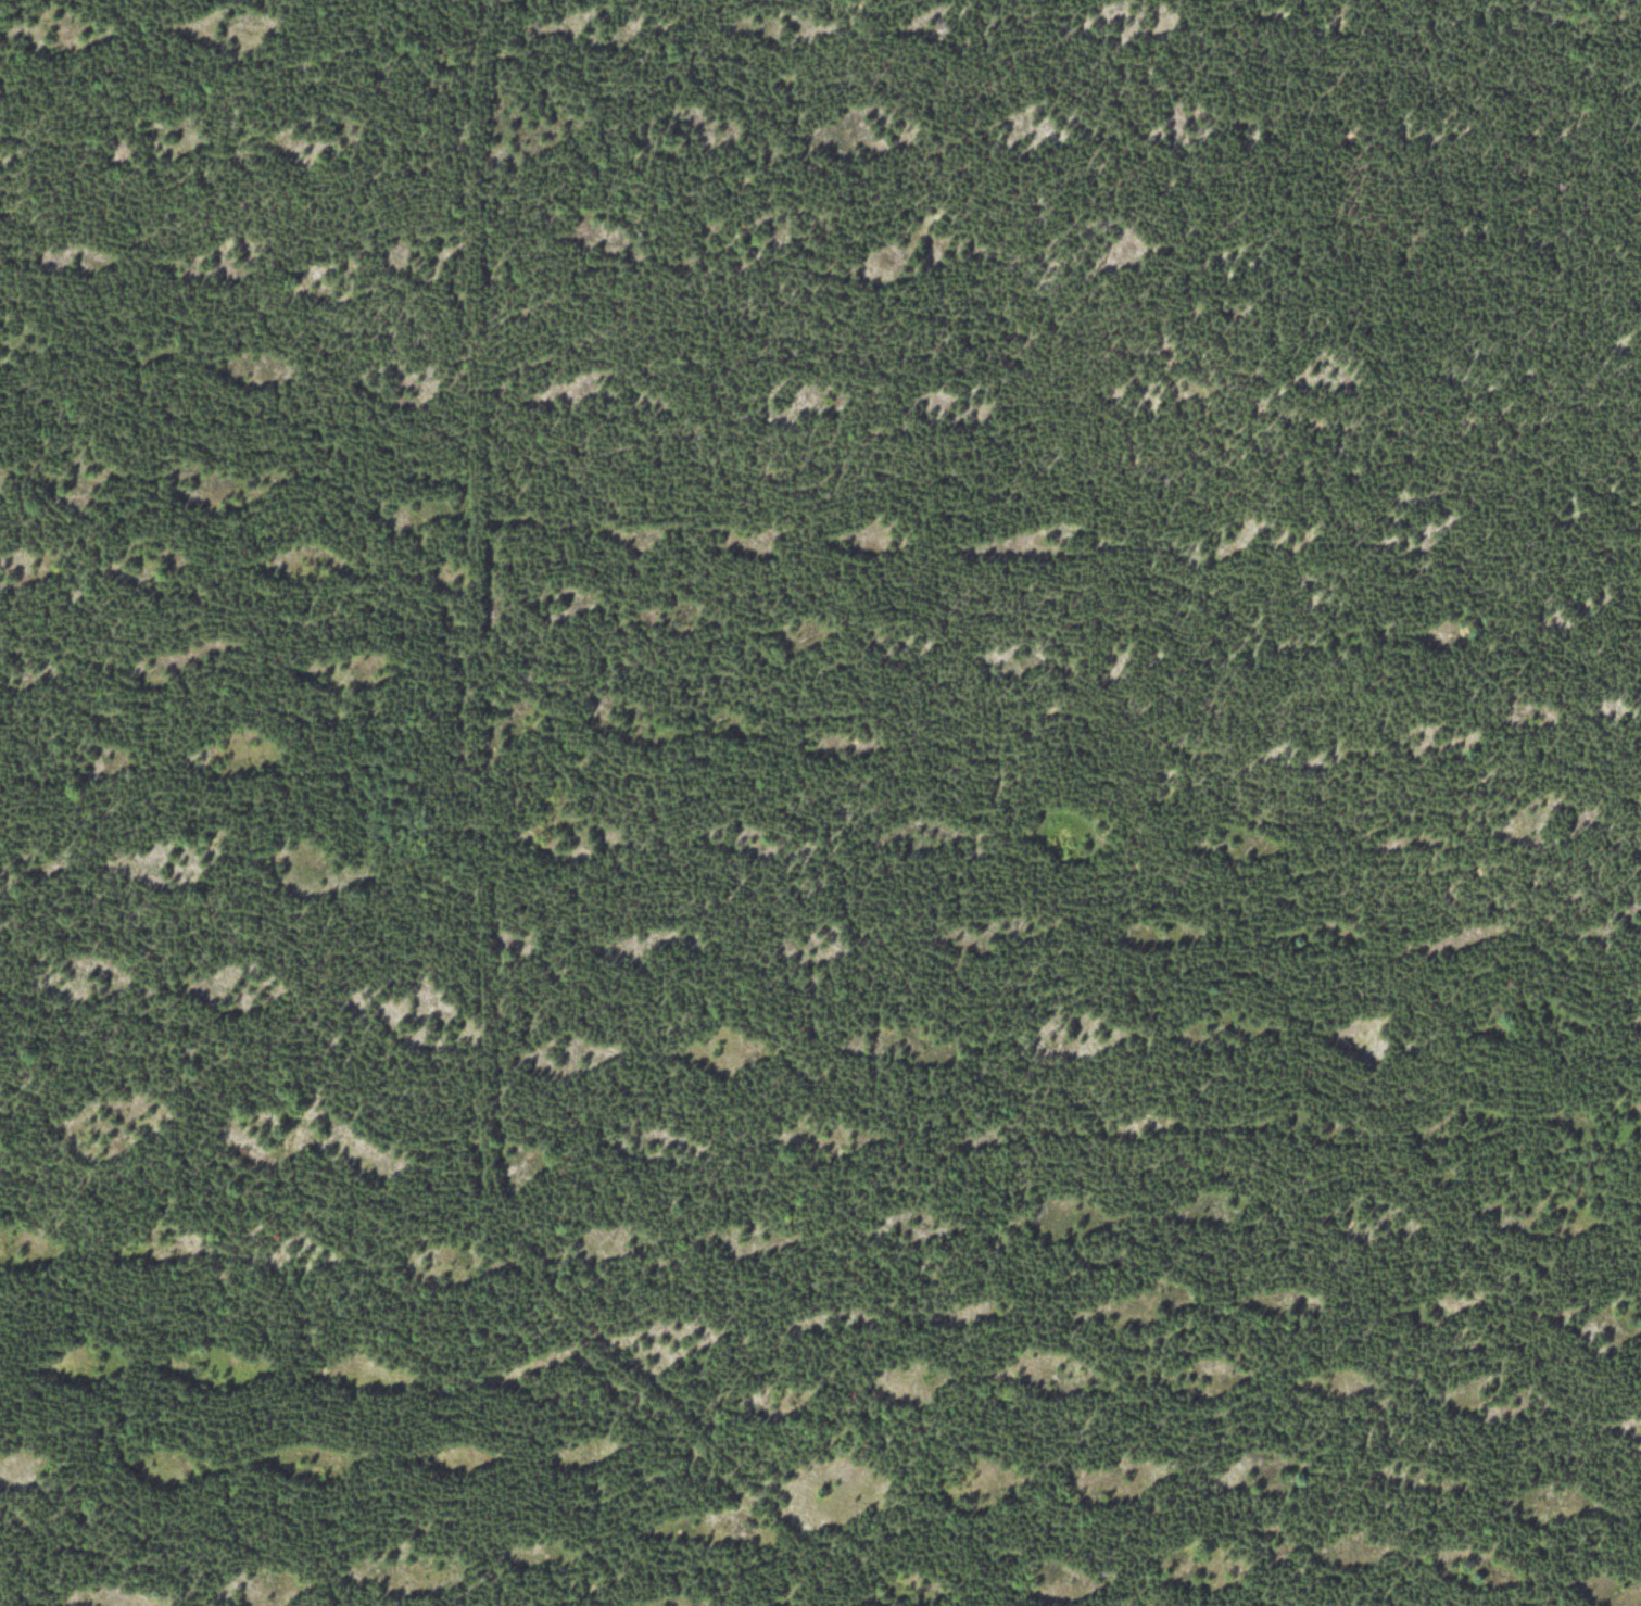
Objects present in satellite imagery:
road: (854, 1557)

